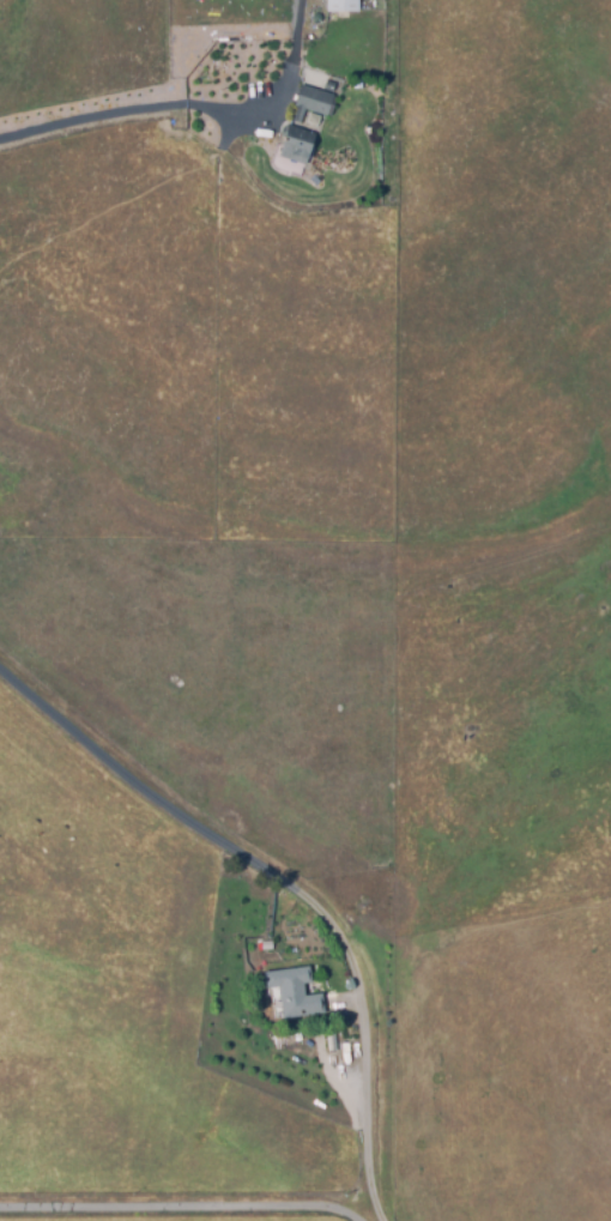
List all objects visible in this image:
building: (338, 10)
building: (309, 104)
road: (120, 114)
building: (294, 151)
road: (291, 885)
building: (297, 992)
road: (182, 1209)

